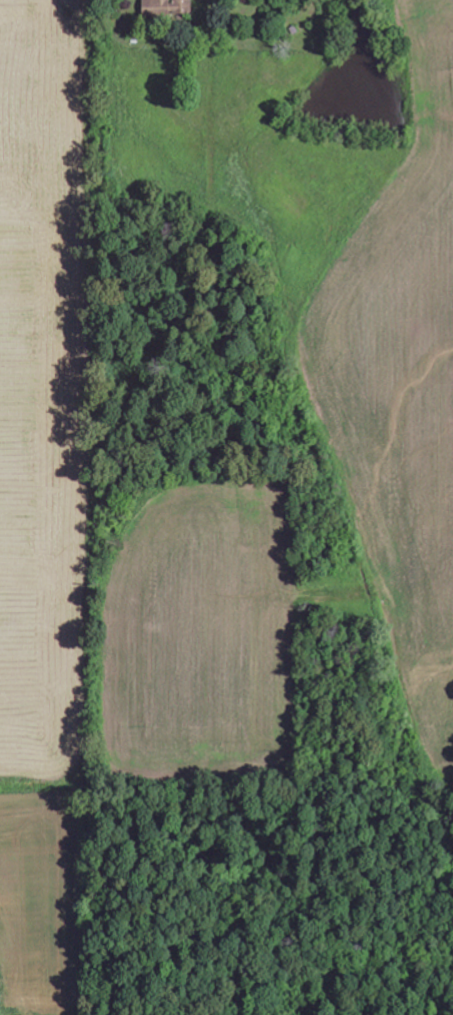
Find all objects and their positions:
building: (166, 8)

